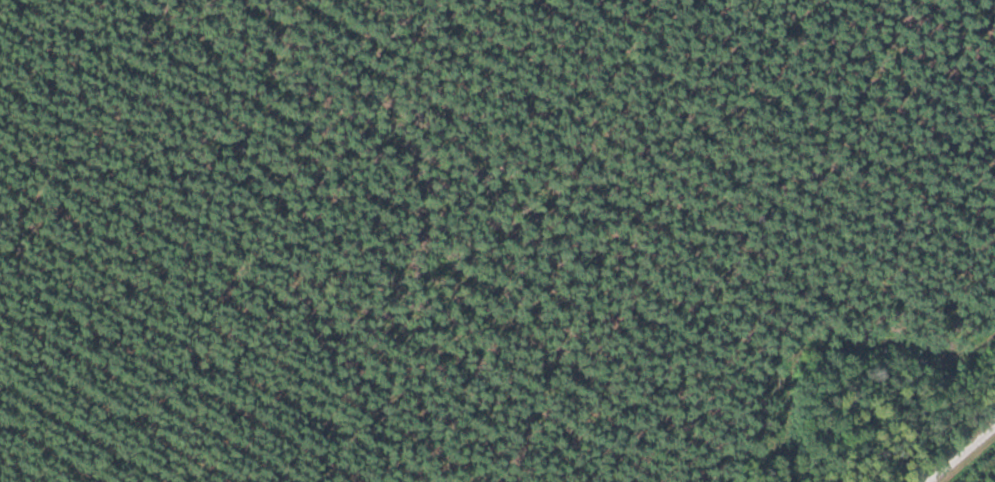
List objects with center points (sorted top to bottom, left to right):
road: (967, 458)

